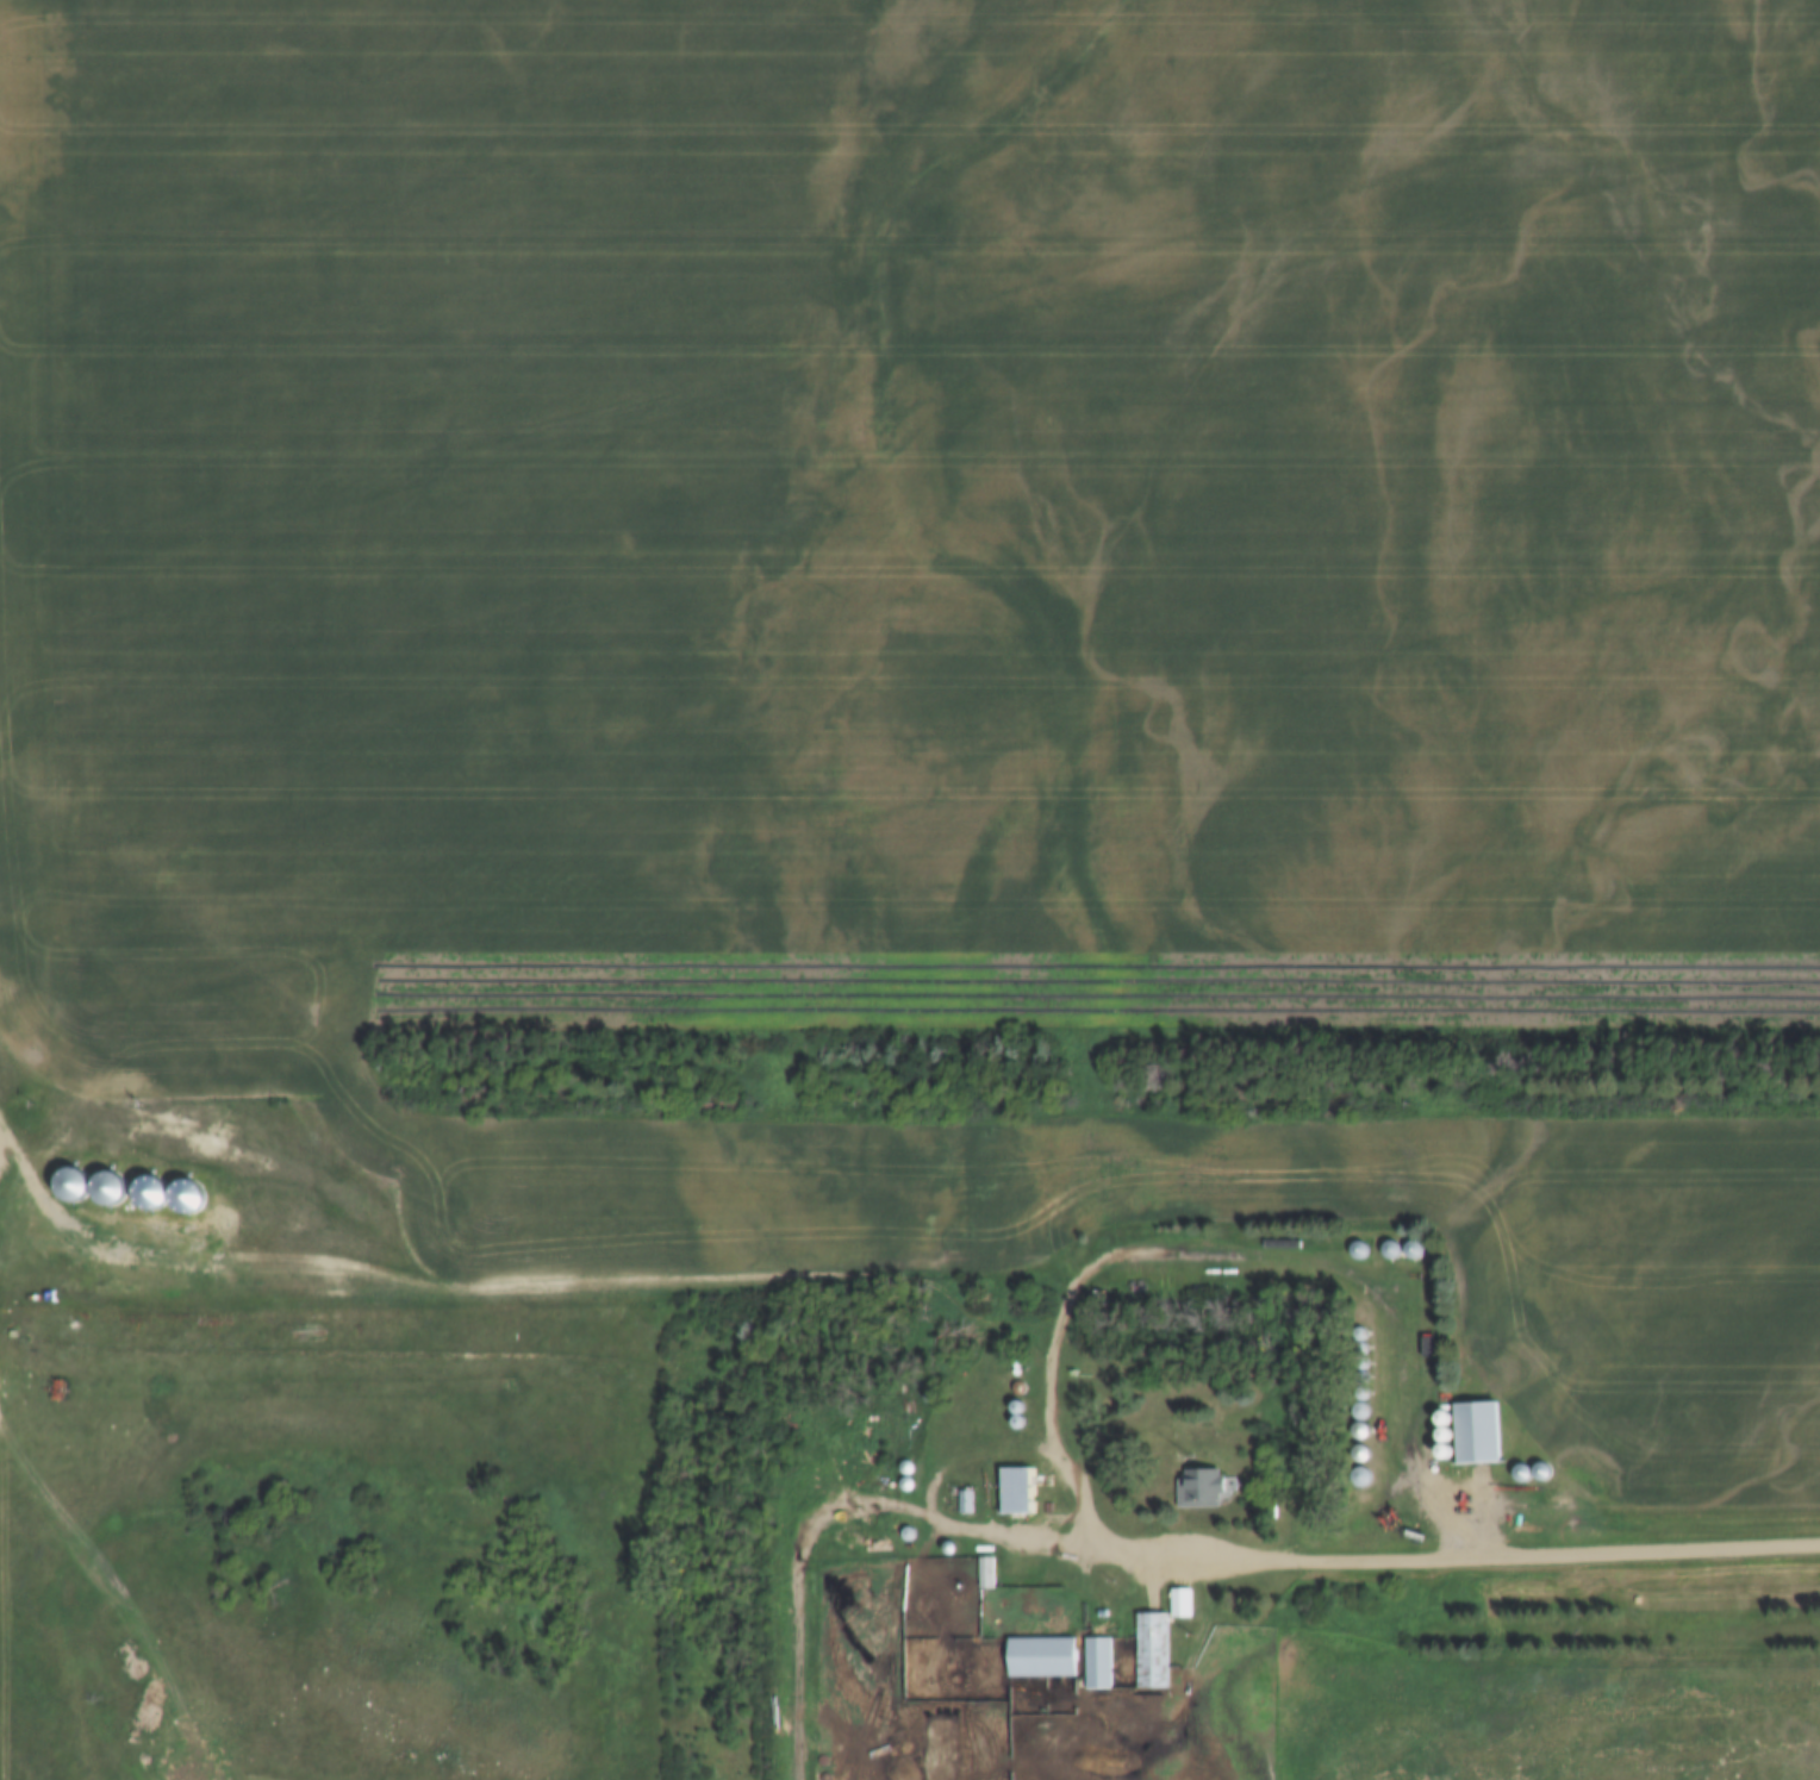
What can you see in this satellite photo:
building: (79, 1185)
road: (376, 1259)
building: (1479, 1434)
building: (1203, 1488)
building: (1017, 1492)
road: (1498, 1556)
building: (1182, 1605)
road: (112, 1613)
building: (1154, 1651)
building: (1045, 1659)
building: (1099, 1665)

